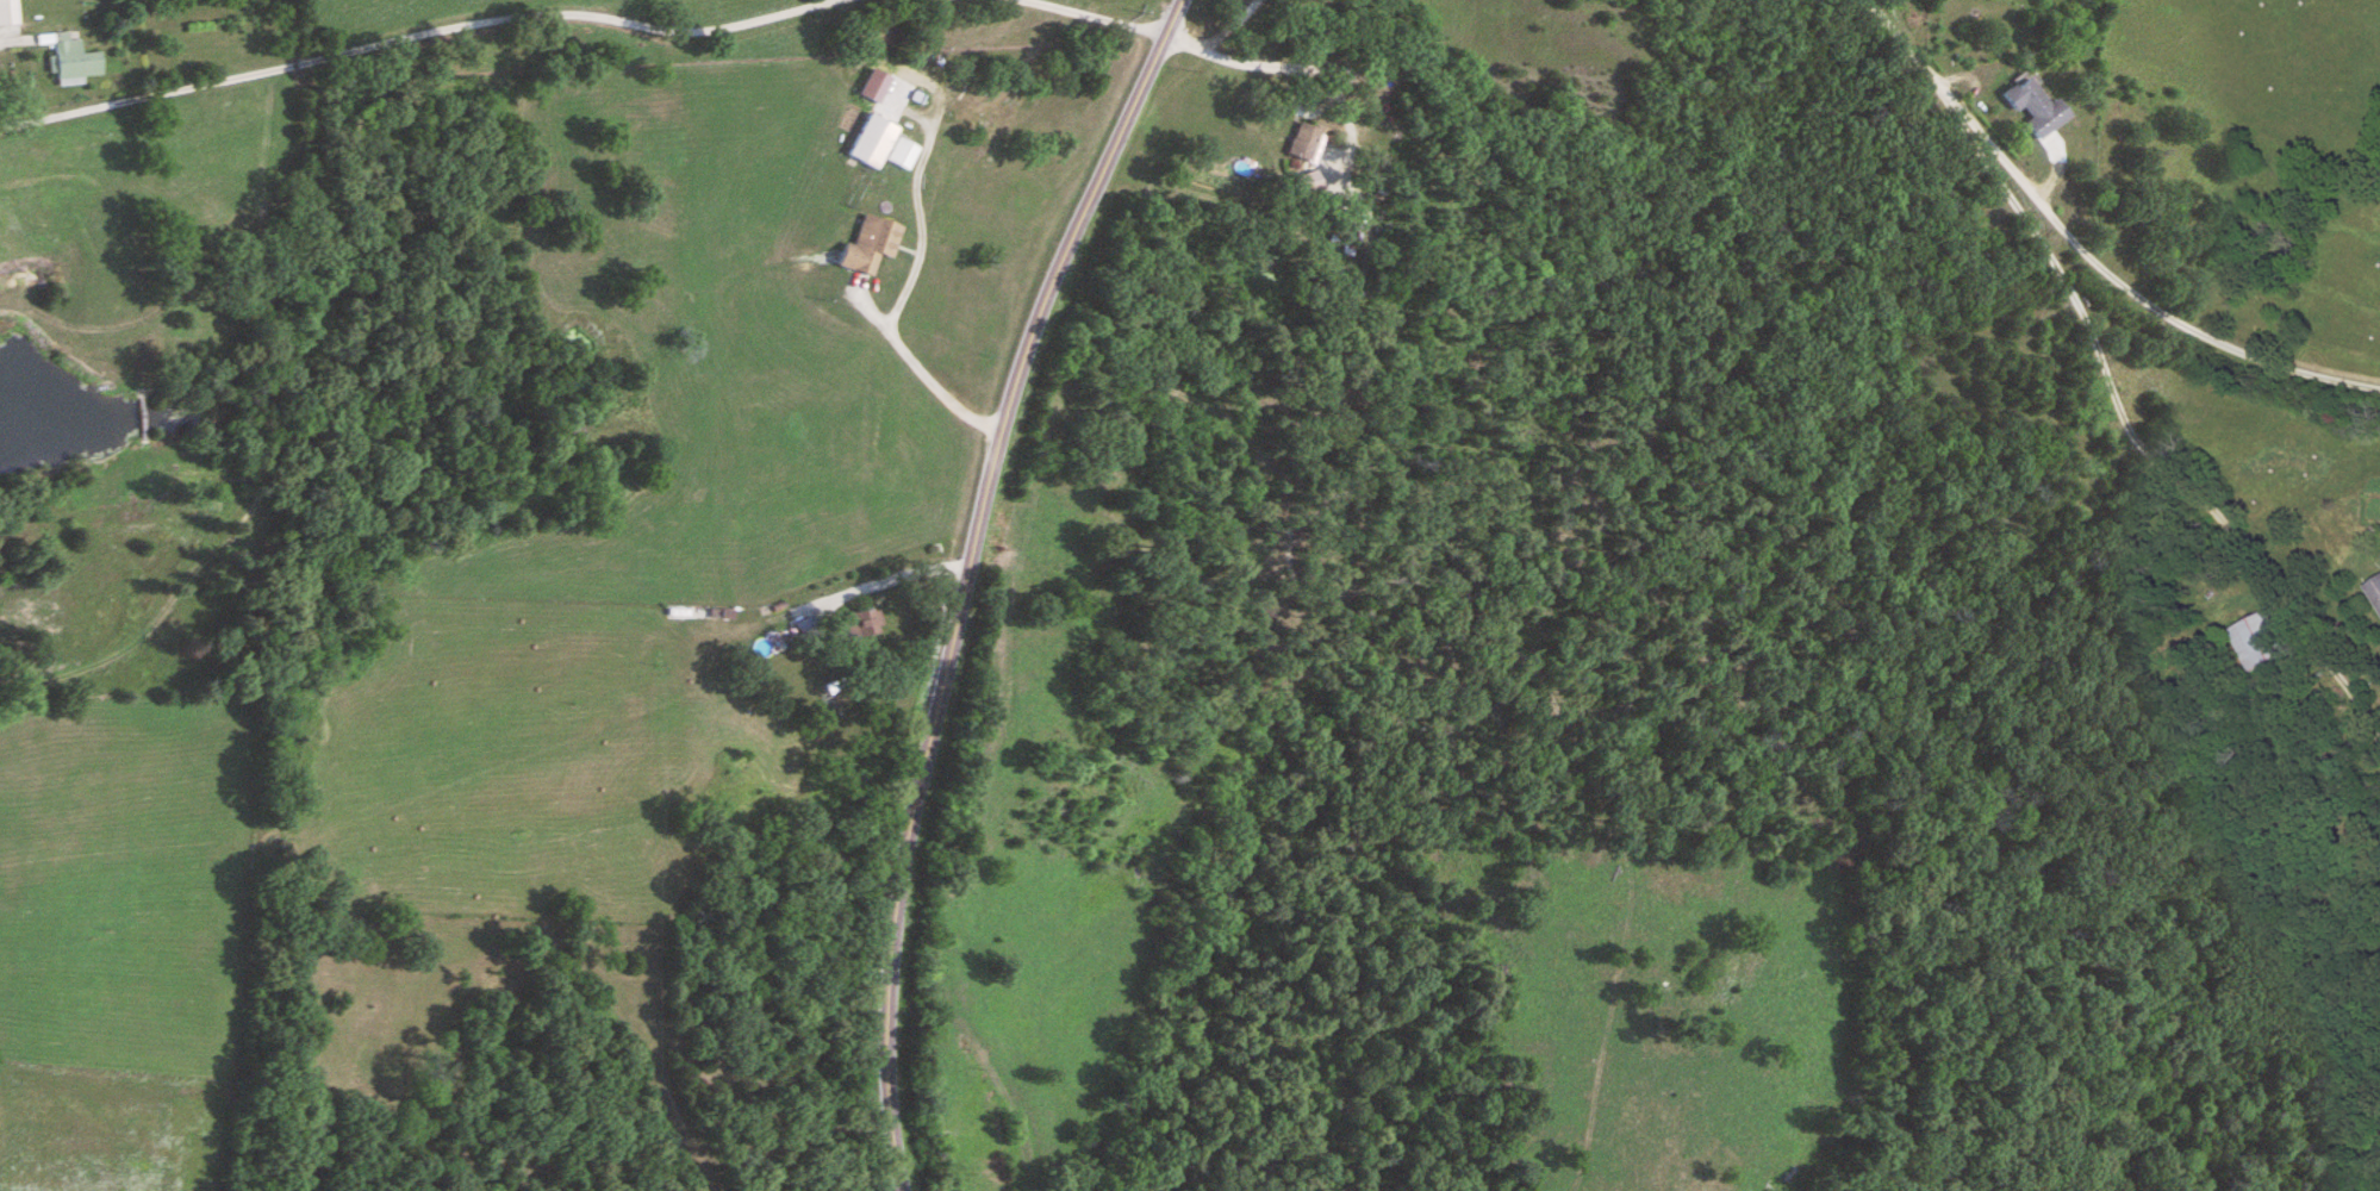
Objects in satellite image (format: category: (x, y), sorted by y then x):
building: (7, 12)
road: (1090, 15)
road: (1225, 26)
road: (412, 31)
building: (73, 61)
road: (1244, 63)
building: (2038, 107)
building: (1304, 141)
building: (880, 144)
building: (870, 245)
road: (2131, 292)
road: (920, 373)
road: (2110, 381)
road: (960, 580)
building: (2376, 590)
building: (862, 624)
building: (2256, 643)

